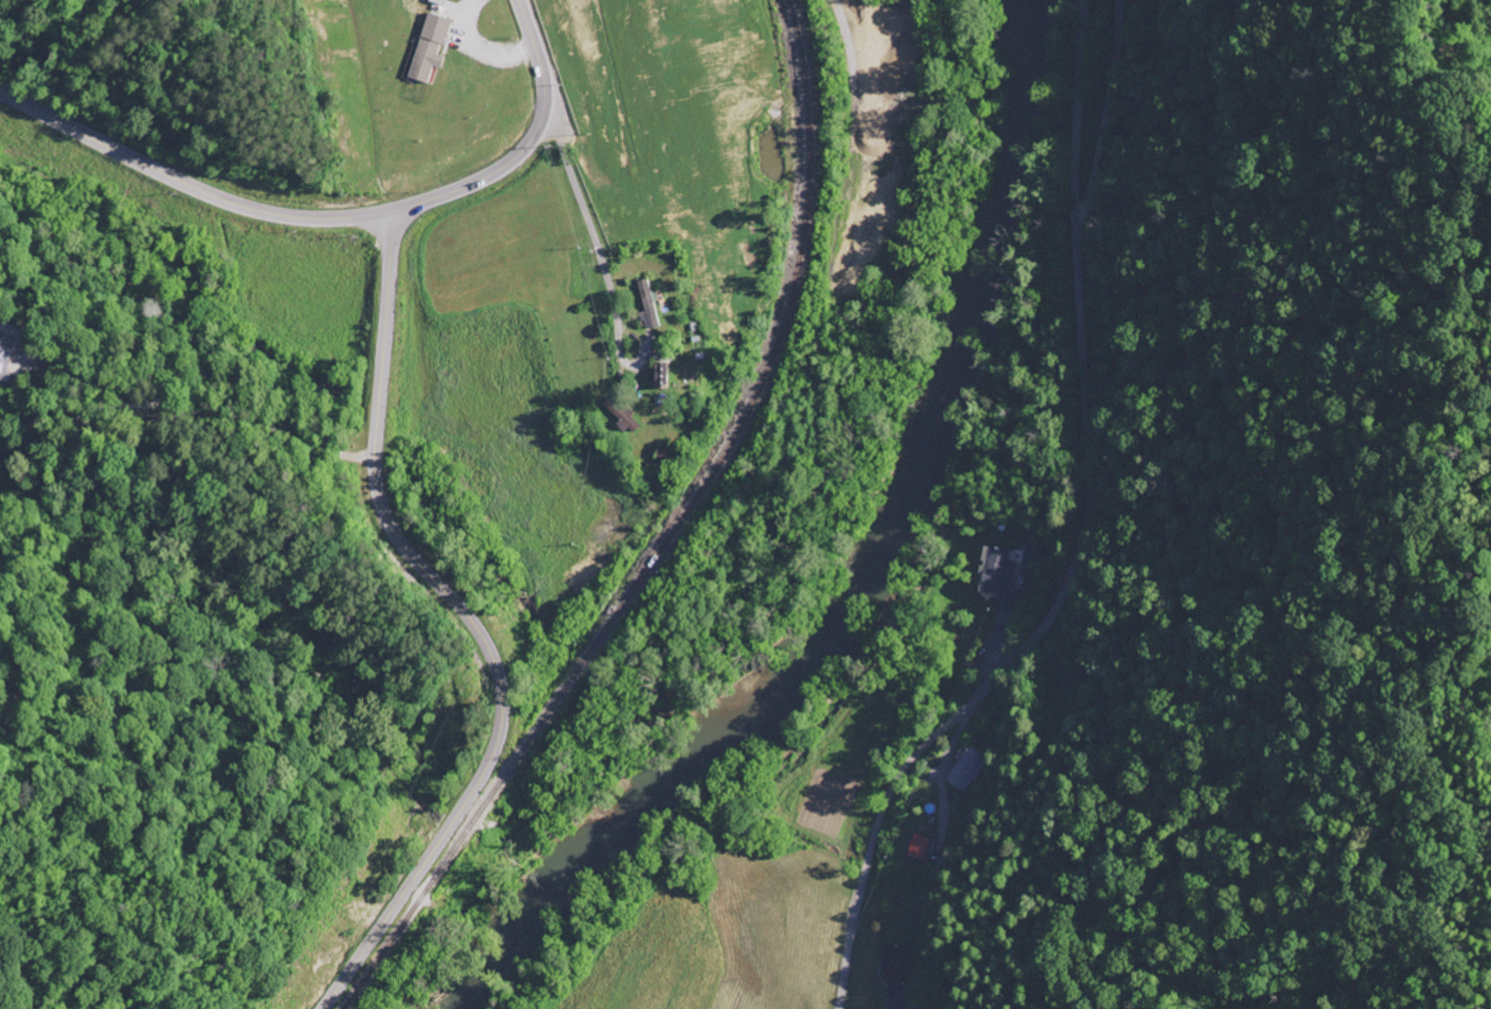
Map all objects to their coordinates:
road: (525, 144)
road: (577, 184)
road: (187, 185)
railway: (668, 537)
road: (1082, 542)
river: (867, 565)
road: (1022, 575)
road: (469, 623)
building: (896, 964)

